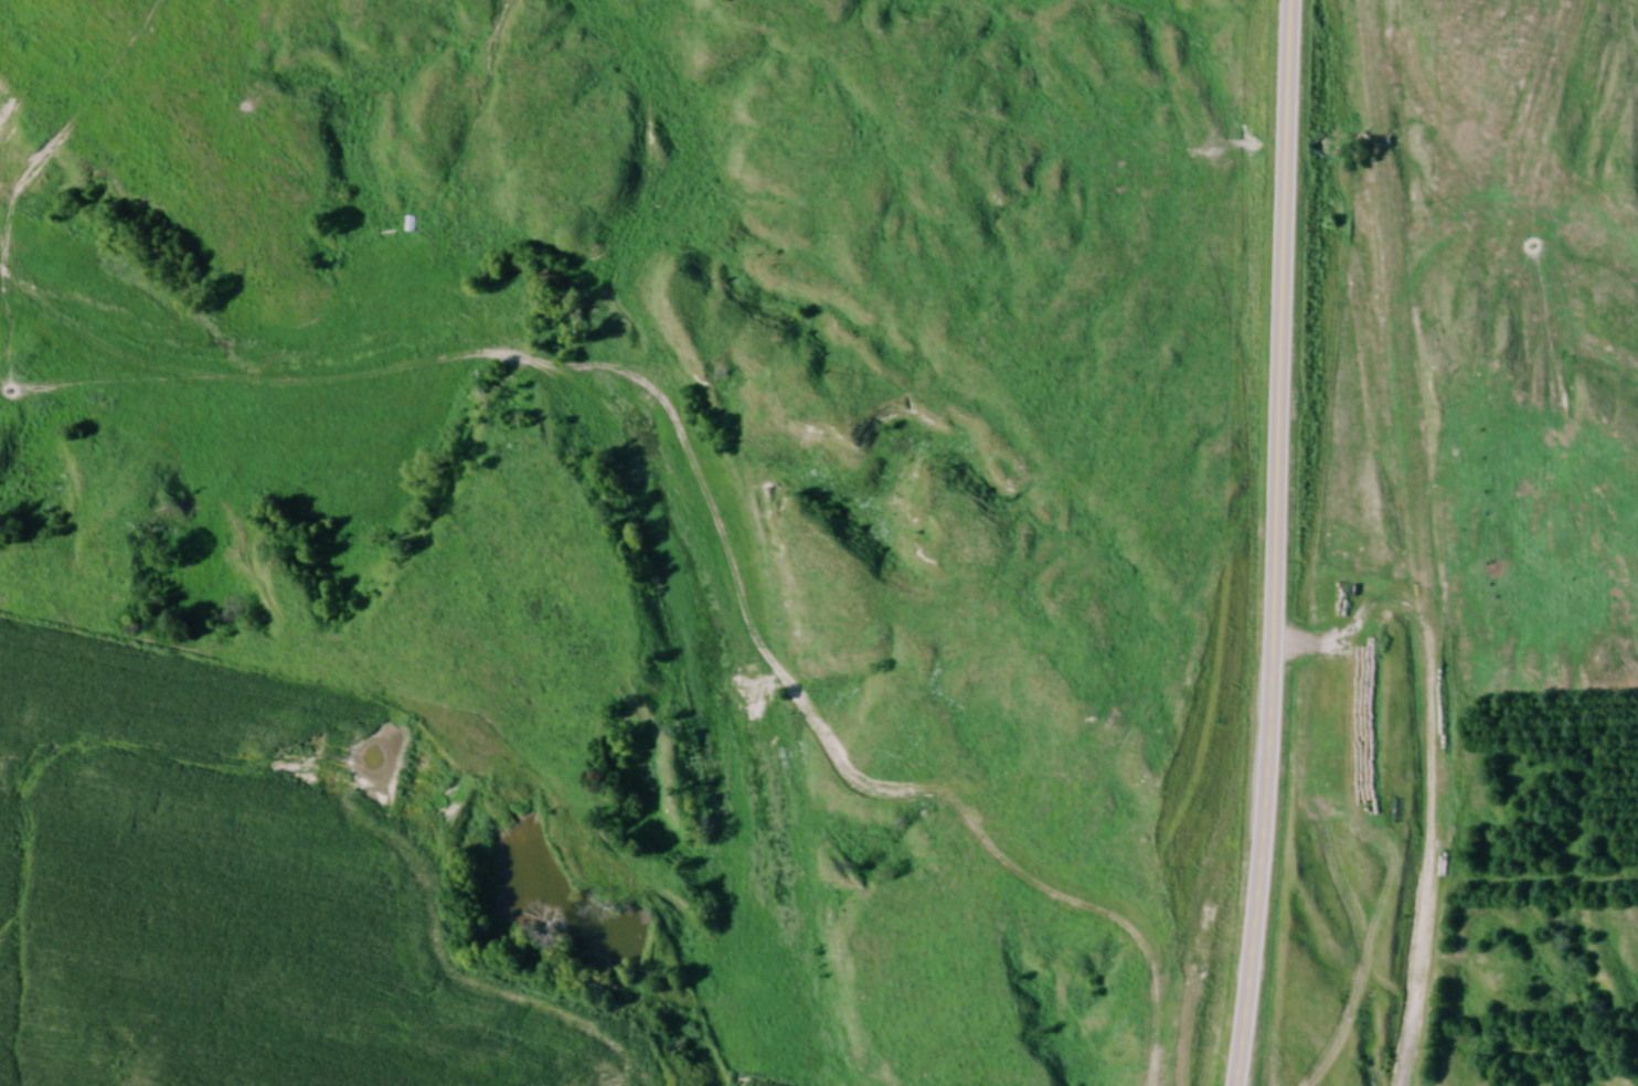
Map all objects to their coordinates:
building: (411, 226)
road: (1275, 543)

